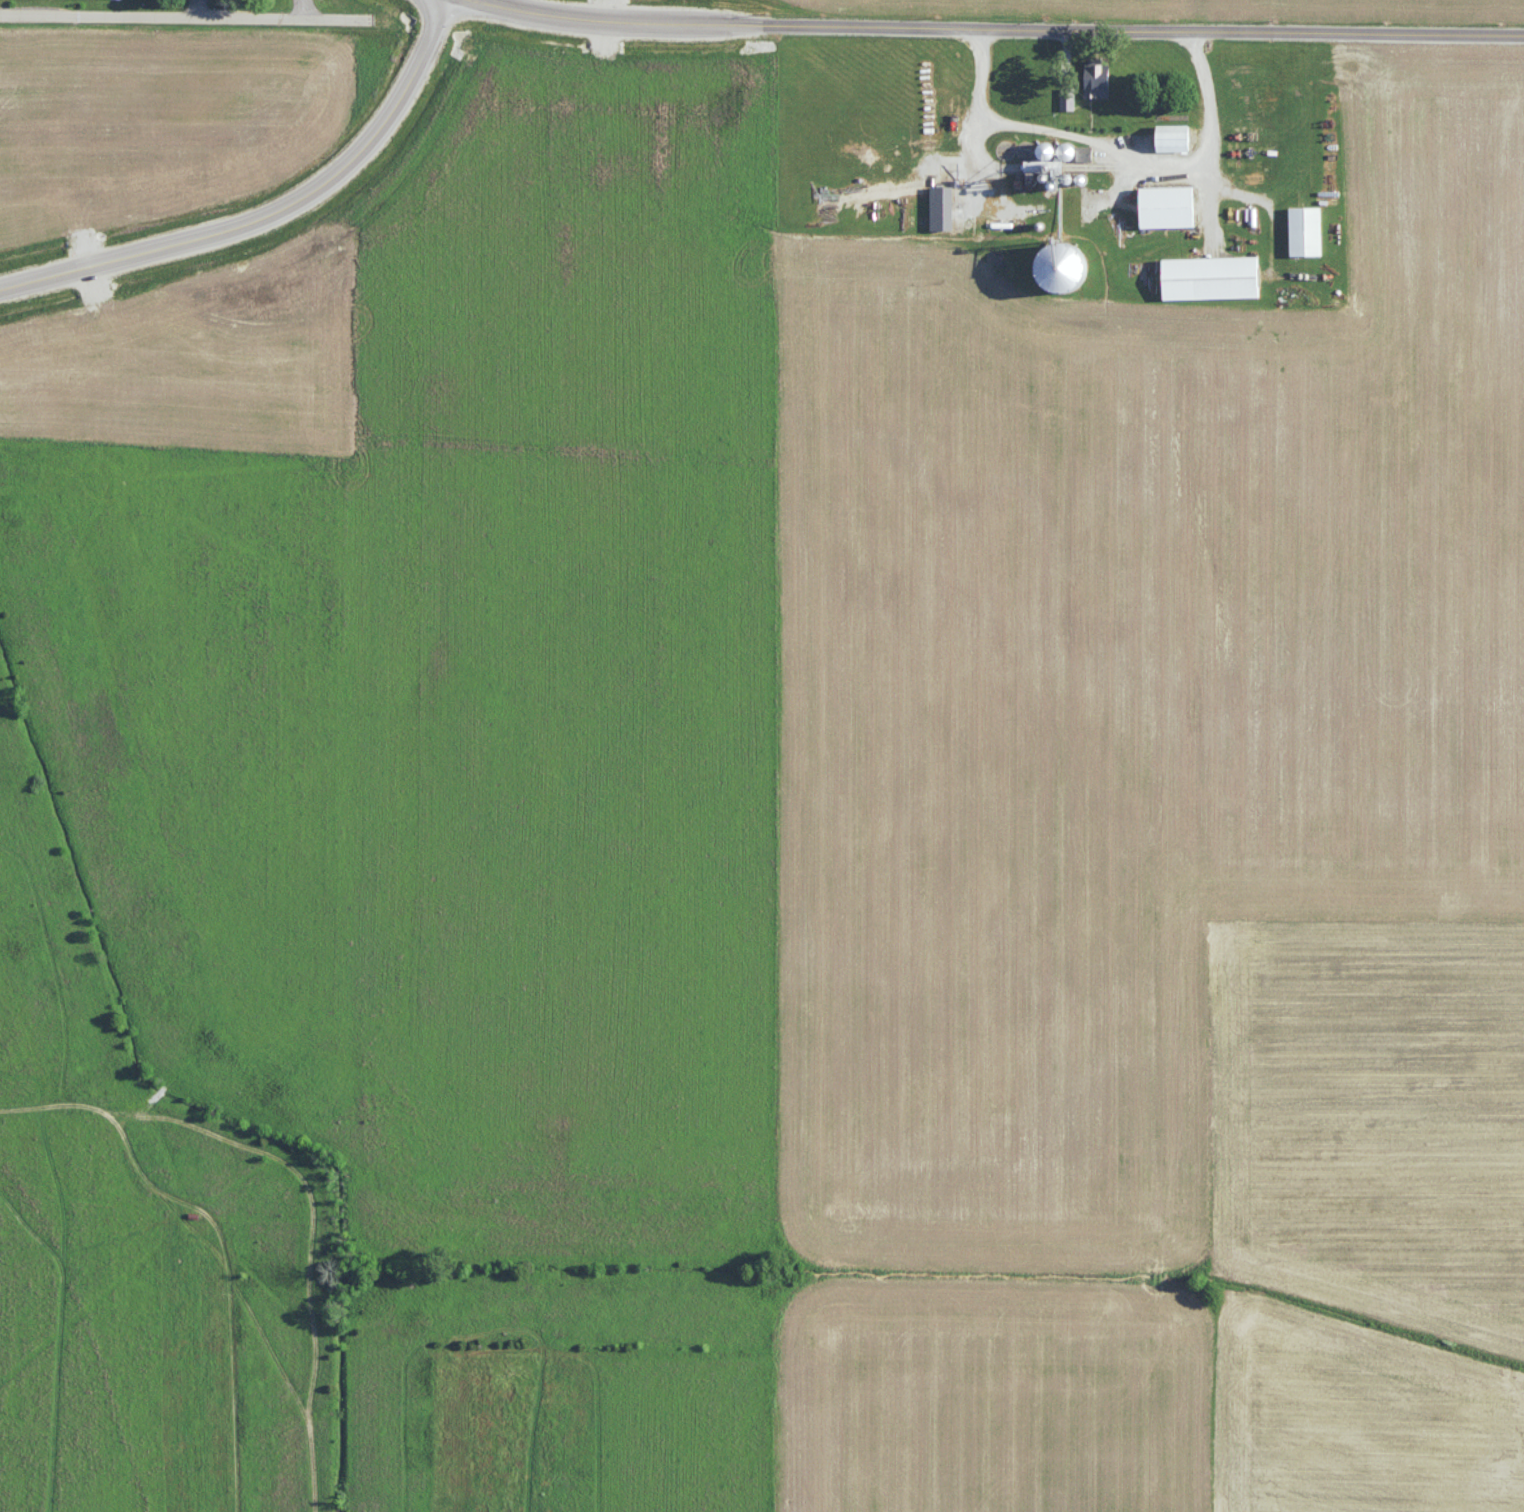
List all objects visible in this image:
road: (210, 11)
road: (187, 19)
road: (996, 26)
building: (1097, 77)
building: (1067, 97)
building: (1173, 136)
road: (1112, 147)
building: (1084, 152)
building: (1167, 205)
building: (942, 206)
road: (287, 223)
building: (1305, 229)
building: (1062, 265)
building: (1211, 276)

